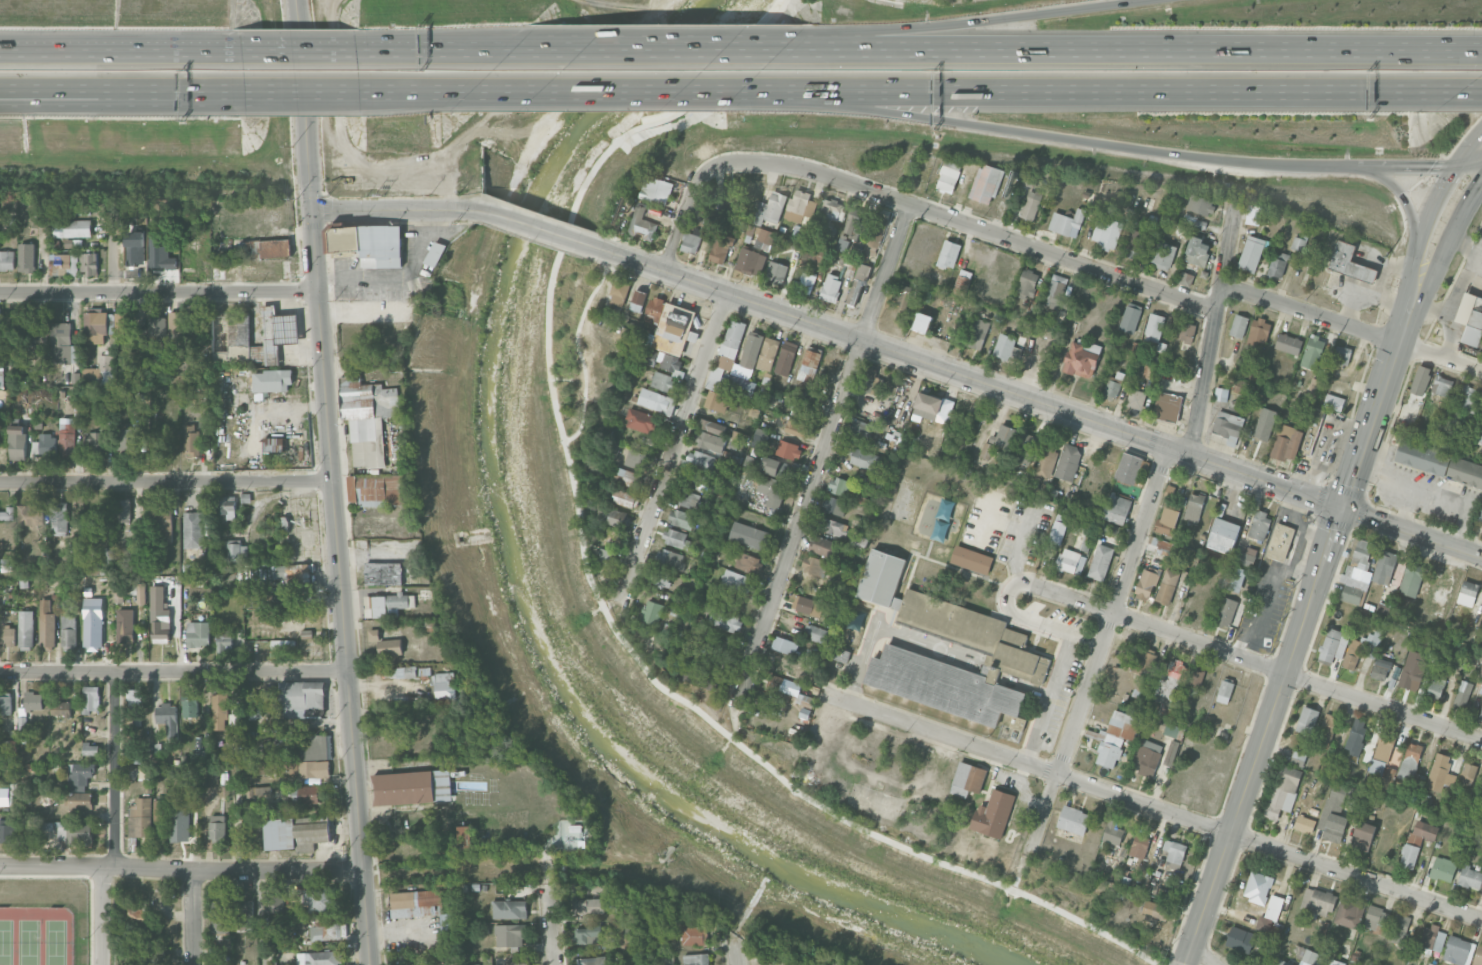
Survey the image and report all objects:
road: (976, 25)
road: (36, 47)
road: (1144, 48)
road: (439, 49)
road: (661, 49)
road: (36, 51)
road: (157, 52)
road: (304, 52)
road: (120, 88)
road: (301, 90)
road: (418, 91)
road: (1186, 91)
road: (609, 92)
road: (824, 92)
road: (751, 93)
road: (120, 96)
traffic signals: (1481, 134)
road: (1051, 138)
road: (1469, 149)
road: (1470, 165)
road: (1444, 166)
road: (1389, 167)
traffic signals: (1431, 167)
building: (948, 176)
building: (986, 183)
traffic signals: (1480, 186)
building: (657, 190)
road: (1397, 192)
building: (1030, 205)
building: (1200, 205)
building: (799, 206)
road: (394, 209)
building: (770, 209)
building: (833, 209)
traffic signals: (312, 211)
building: (703, 215)
building: (1253, 215)
road: (958, 222)
building: (1066, 222)
road: (681, 223)
building: (642, 224)
road: (1424, 224)
building: (78, 228)
road: (539, 228)
building: (851, 228)
building: (1106, 233)
building: (876, 236)
road: (1451, 238)
building: (1136, 240)
building: (694, 242)
building: (1299, 243)
building: (370, 244)
road: (114, 247)
building: (260, 247)
building: (721, 248)
building: (1197, 250)
building: (1251, 253)
building: (948, 254)
building: (1164, 255)
building: (26, 257)
building: (7, 260)
building: (749, 261)
building: (1350, 262)
building: (88, 263)
building: (64, 264)
building: (1278, 265)
building: (777, 273)
road: (396, 276)
building: (1185, 279)
building: (806, 282)
building: (1027, 282)
building: (962, 283)
building: (857, 284)
building: (831, 288)
building: (1057, 292)
road: (159, 293)
building: (619, 293)
building: (902, 295)
building: (638, 299)
building: (655, 309)
building: (0, 315)
building: (1130, 316)
building: (1470, 318)
building: (98, 322)
building: (922, 322)
building: (122, 323)
building: (196, 323)
building: (1238, 324)
building: (156, 325)
building: (177, 325)
building: (1154, 327)
road: (1351, 327)
building: (675, 329)
road: (1213, 331)
building: (1259, 331)
building: (1185, 332)
building: (976, 333)
building: (275, 335)
building: (231, 339)
building: (1288, 343)
building: (63, 344)
building: (1006, 346)
building: (730, 348)
road: (583, 349)
building: (1041, 351)
building: (1312, 351)
building: (768, 354)
building: (1342, 354)
building: (786, 357)
building: (660, 359)
building: (830, 359)
building: (1082, 359)
building: (809, 365)
building: (100, 370)
building: (2, 376)
building: (271, 380)
building: (662, 381)
building: (870, 381)
building: (1114, 385)
building: (1442, 385)
building: (1418, 386)
building: (1221, 394)
building: (1136, 398)
building: (1467, 398)
building: (656, 401)
building: (717, 401)
road: (1041, 402)
building: (1333, 402)
building: (1167, 406)
building: (933, 407)
building: (369, 418)
building: (641, 421)
building: (1265, 423)
building: (710, 426)
building: (797, 427)
building: (1226, 427)
building: (861, 429)
building: (739, 436)
building: (1004, 436)
building: (67, 437)
building: (131, 437)
building: (190, 439)
building: (709, 440)
building: (17, 442)
road: (1324, 442)
building: (96, 443)
building: (1286, 443)
building: (275, 444)
building: (45, 445)
building: (788, 449)
building: (1025, 449)
road: (673, 450)
building: (986, 450)
road: (822, 456)
building: (636, 459)
building: (863, 459)
building: (1047, 459)
building: (701, 460)
building: (1068, 462)
building: (1439, 462)
building: (779, 466)
building: (1129, 468)
building: (629, 477)
building: (698, 481)
road: (167, 482)
road: (334, 482)
building: (840, 486)
building: (376, 489)
building: (772, 490)
road: (1431, 493)
building: (626, 498)
building: (688, 498)
park: (906, 501)
building: (833, 505)
building: (226, 506)
building: (1194, 507)
road: (1404, 507)
traffic signals: (1341, 508)
building: (1116, 509)
building: (122, 510)
building: (7, 514)
building: (31, 515)
building: (1480, 516)
building: (58, 518)
building: (682, 518)
building: (619, 519)
building: (1167, 521)
building: (163, 522)
road: (1296, 522)
building: (1259, 525)
building: (831, 526)
building: (377, 527)
building: (1058, 528)
building: (193, 529)
building: (1114, 529)
parking lot: (1025, 535)
building: (1223, 535)
building: (750, 536)
building: (981, 536)
building: (613, 538)
building: (676, 538)
building: (858, 542)
road: (1020, 542)
building: (1280, 542)
building: (1159, 545)
building: (822, 546)
building: (236, 552)
building: (1245, 556)
building: (607, 557)
building: (665, 557)
building: (972, 561)
building: (1071, 561)
road: (1293, 561)
building: (1100, 562)
building: (748, 563)
building: (6, 565)
building: (814, 565)
building: (1384, 567)
building: (285, 572)
building: (383, 573)
building: (1357, 573)
building: (660, 576)
building: (882, 578)
building: (1234, 578)
building: (1411, 579)
building: (739, 581)
building: (1146, 585)
building: (1167, 586)
building: (141, 593)
road: (593, 593)
building: (1468, 593)
building: (119, 595)
building: (286, 597)
building: (251, 600)
building: (387, 604)
building: (807, 606)
building: (1226, 611)
building: (652, 612)
road: (1262, 613)
building: (159, 616)
building: (725, 621)
road: (1032, 622)
building: (93, 624)
building: (46, 626)
building: (125, 626)
road: (1301, 626)
building: (25, 630)
building: (68, 631)
building: (198, 634)
building: (819, 634)
building: (374, 635)
building: (7, 636)
building: (974, 636)
building: (224, 640)
building: (784, 645)
road: (927, 646)
building: (1333, 646)
building: (390, 647)
building: (1360, 650)
road: (1098, 652)
building: (842, 656)
building: (708, 657)
road: (864, 657)
building: (1143, 661)
building: (781, 663)
road: (1255, 664)
parking lot: (1055, 668)
building: (1380, 669)
building: (1412, 670)
building: (1481, 670)
road: (174, 672)
building: (394, 672)
building: (700, 677)
building: (1195, 678)
building: (446, 685)
building: (944, 686)
building: (790, 687)
building: (1436, 687)
building: (1225, 691)
building: (1462, 694)
building: (134, 698)
building: (91, 699)
building: (301, 699)
road: (1048, 700)
building: (34, 701)
building: (5, 703)
building: (190, 705)
building: (254, 706)
building: (61, 708)
building: (219, 711)
building: (1480, 716)
building: (167, 718)
building: (1307, 720)
building: (1018, 724)
building: (1326, 730)
building: (1173, 731)
building: (1356, 736)
building: (1113, 738)
building: (268, 742)
building: (1385, 743)
building: (7, 745)
building: (313, 747)
building: (90, 749)
building: (1147, 757)
building: (1410, 761)
building: (1377, 766)
building: (313, 769)
road: (116, 770)
building: (145, 772)
building: (1438, 772)
building: (1468, 772)
building: (80, 775)
building: (967, 779)
building: (412, 787)
building: (1283, 791)
building: (309, 794)
building: (260, 795)
building: (5, 796)
building: (80, 800)
road: (1150, 805)
building: (159, 811)
building: (993, 814)
building: (1334, 814)
building: (140, 817)
building: (1073, 820)
building: (1305, 824)
building: (180, 825)
building: (217, 827)
building: (72, 832)
building: (1113, 832)
building: (1423, 832)
building: (7, 833)
building: (295, 833)
building: (1363, 836)
building: (465, 838)
building: (1139, 846)
building: (1176, 853)
building: (1409, 856)
building: (1443, 869)
road: (182, 871)
building: (1471, 878)
building: (1257, 887)
building: (274, 899)
building: (320, 900)
building: (415, 903)
building: (588, 906)
building: (509, 909)
building: (1155, 910)
building: (1350, 912)
building: (1270, 914)
building: (138, 915)
road: (105, 916)
building: (245, 916)
building: (221, 917)
road: (193, 918)
road: (261, 919)
building: (1376, 919)
building: (448, 923)
road: (551, 923)
building: (326, 929)
building: (1399, 929)
building: (510, 934)
building: (587, 934)
building: (694, 936)
building: (1432, 938)
building: (1240, 939)
park: (6, 941)
park: (29, 942)
park: (55, 942)
road: (738, 949)
building: (1458, 951)
road: (1203, 954)
building: (147, 956)
building: (1478, 956)
building: (1309, 957)
building: (318, 958)
building: (696, 959)
building: (517, 960)
building: (592, 961)
building: (1281, 963)
building: (472, 964)
road: (1185, 964)

